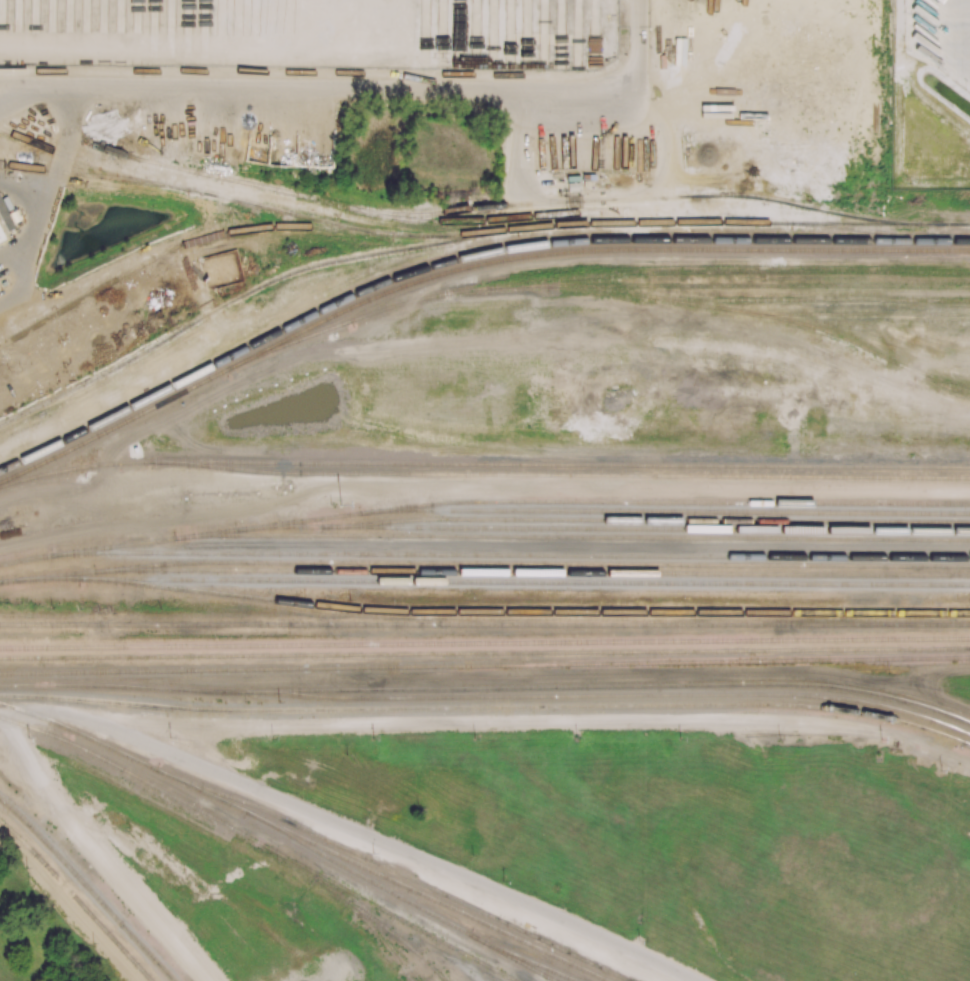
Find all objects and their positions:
road: (640, 41)
road: (315, 87)
road: (25, 99)
railway: (2, 130)
railway: (48, 170)
railway: (82, 176)
railway: (320, 207)
railway: (143, 210)
railway: (459, 210)
railway: (759, 223)
railway: (363, 229)
railway: (892, 233)
railway: (173, 249)
railway: (601, 251)
railway: (462, 259)
railway: (605, 276)
railway: (747, 285)
railway: (238, 296)
railway: (770, 299)
railway: (850, 314)
railway: (823, 329)
railway: (0, 345)
railway: (943, 384)
railway: (127, 422)
railway: (483, 464)
railway: (569, 474)
railway: (720, 485)
railway: (734, 494)
railway: (678, 502)
railway: (529, 511)
railway: (619, 519)
railway: (661, 529)
railway: (585, 537)
railway: (560, 546)
railway: (484, 554)
railway: (484, 562)
railway: (545, 572)
railway: (507, 581)
railway: (541, 612)
railway: (346, 625)
railway: (799, 625)
railway: (834, 627)
railway: (485, 642)
railway: (485, 653)
railway: (914, 658)
railway: (429, 667)
railway: (621, 686)
railway: (487, 697)
railway: (487, 707)
railway: (969, 721)
railway: (225, 823)
road: (352, 829)
railway: (303, 840)
road: (99, 854)
railway: (405, 875)
railway: (89, 887)
railway: (77, 899)
railway: (422, 909)
railway: (401, 918)
railway: (388, 929)
railway: (401, 956)
railway: (523, 963)

